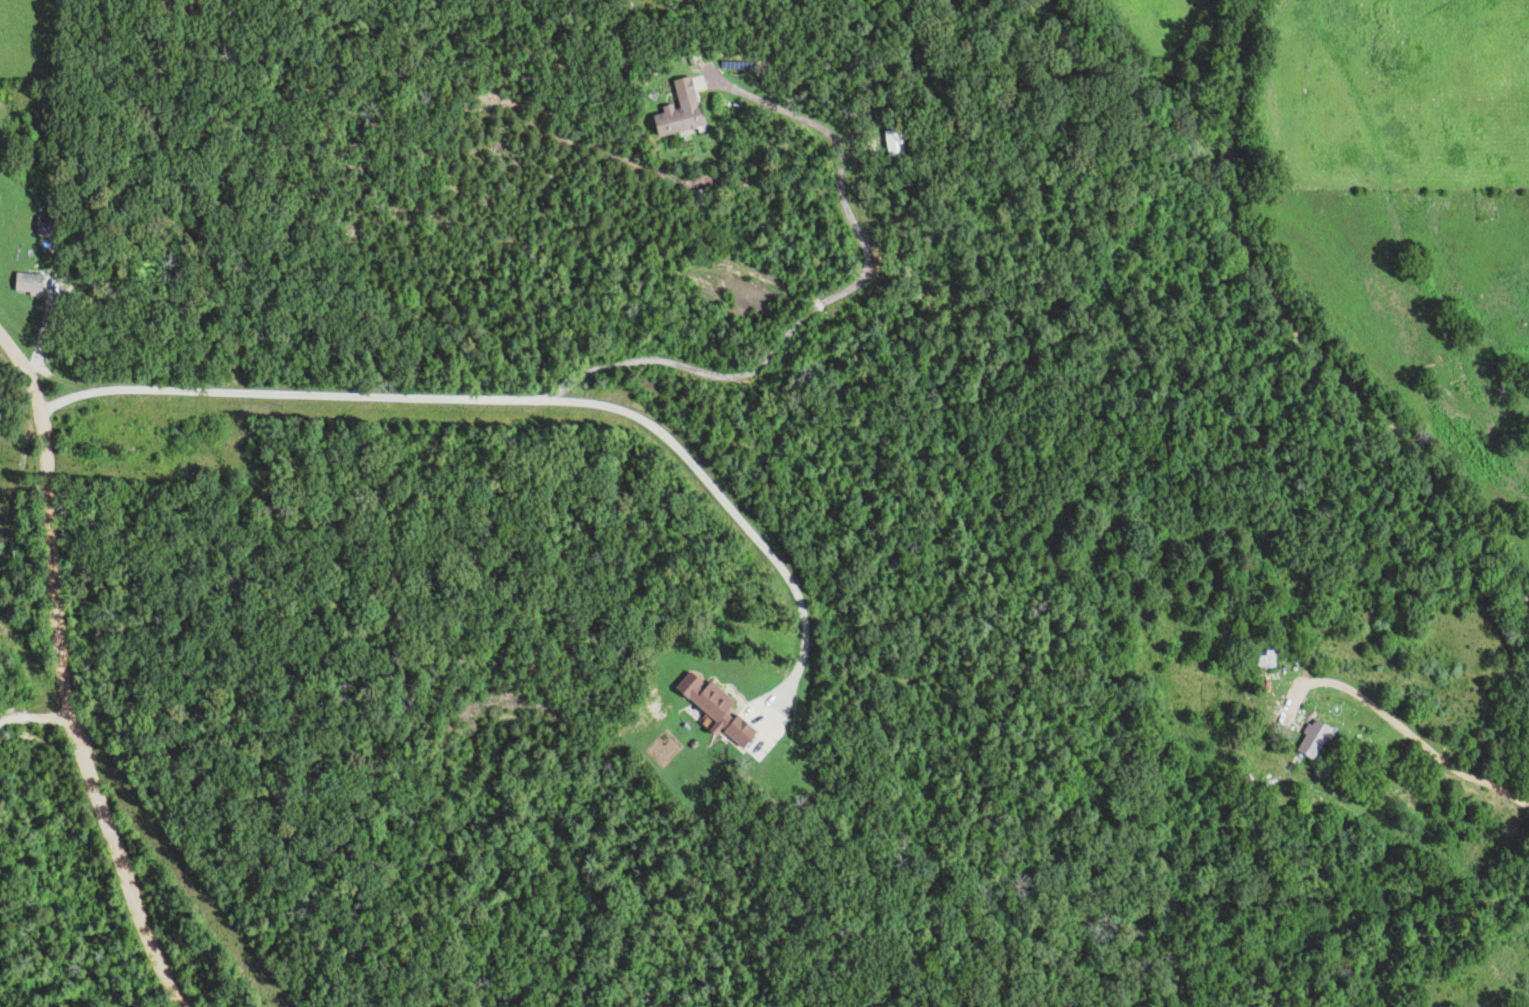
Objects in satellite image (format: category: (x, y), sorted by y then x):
building: (674, 112)
building: (891, 145)
building: (43, 227)
building: (24, 284)
road: (825, 297)
building: (1458, 373)
road: (289, 394)
road: (729, 510)
building: (1263, 663)
road: (50, 685)
building: (709, 701)
building: (1311, 740)

